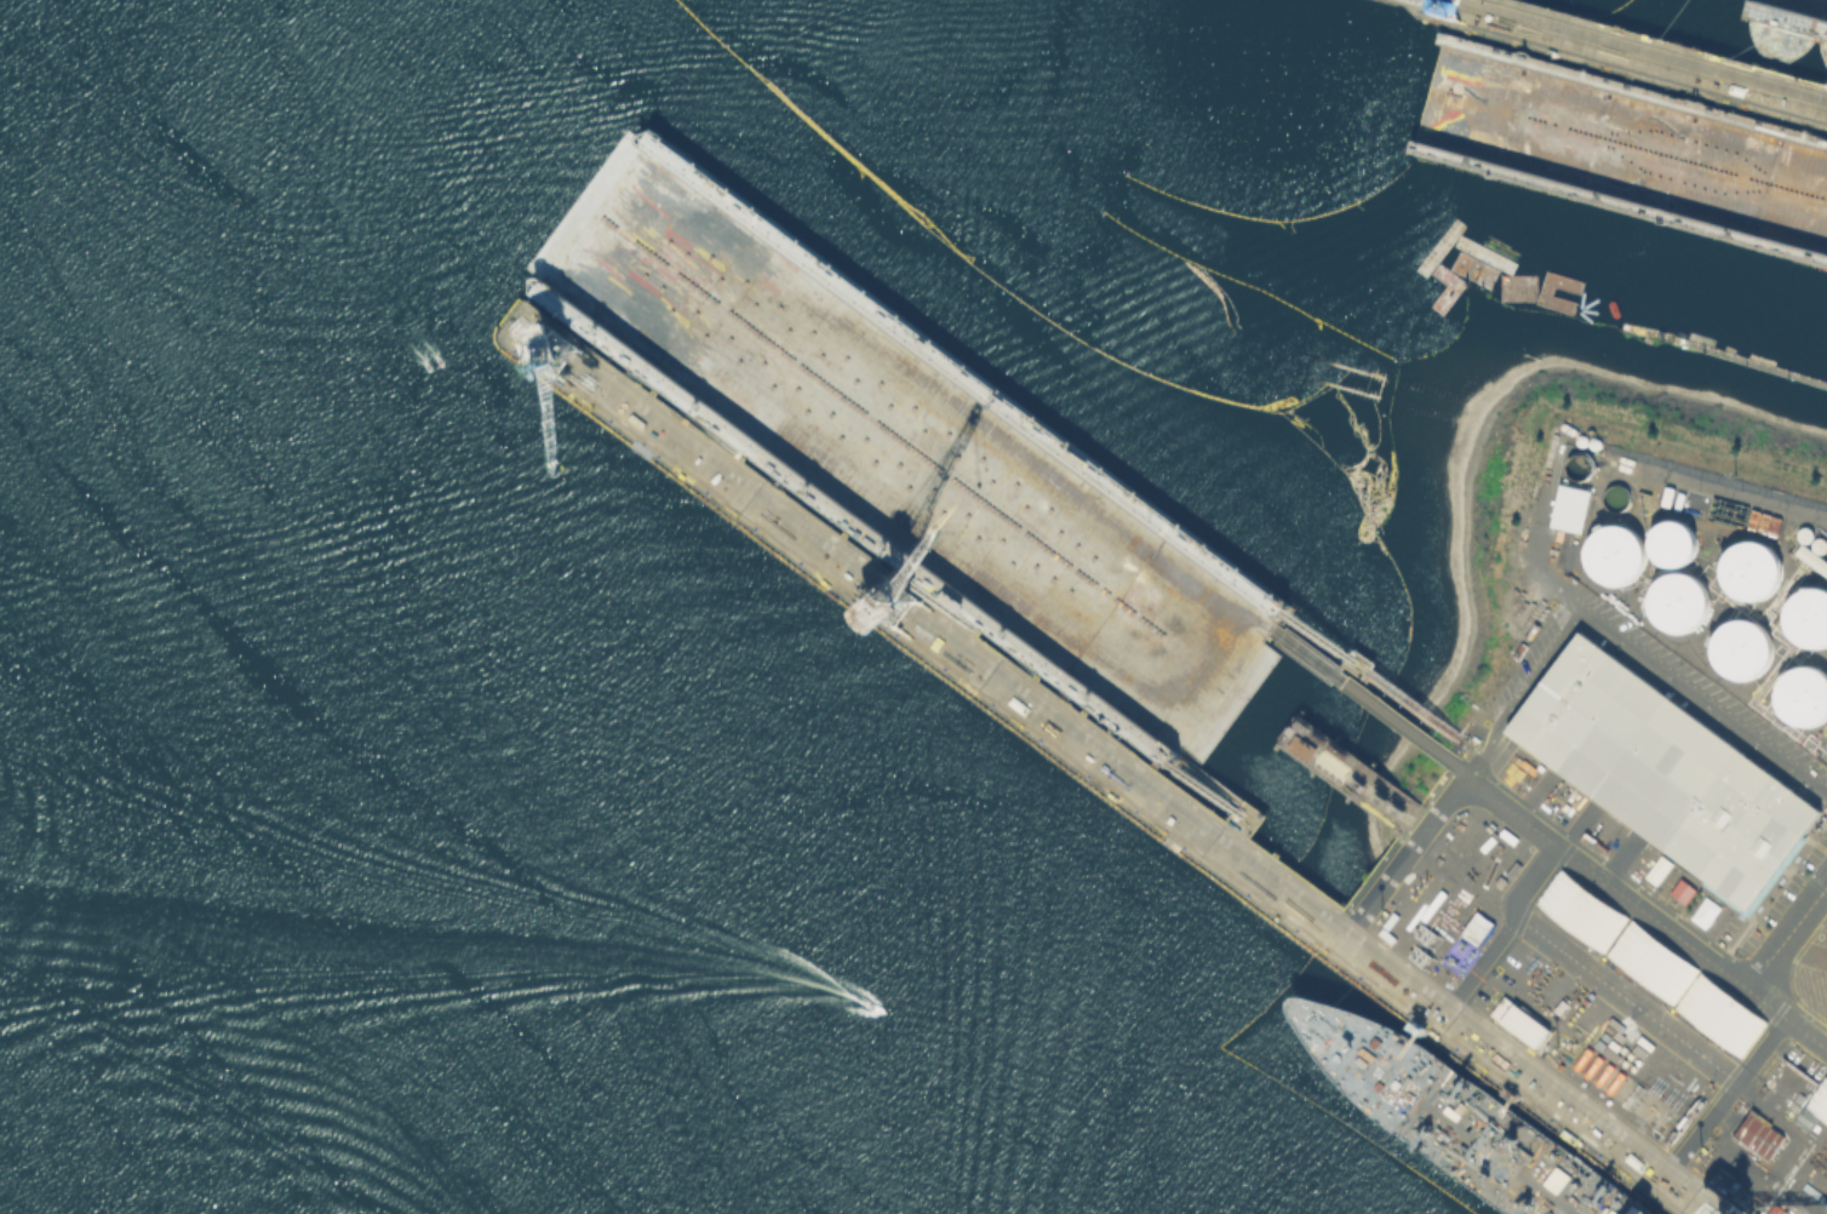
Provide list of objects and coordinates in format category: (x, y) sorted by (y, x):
railway: (1660, 47)
railway: (1637, 52)
pier: (1637, 55)
railway: (1622, 64)
railway: (1298, 362)
pier: (1762, 363)
building: (1568, 506)
building: (1671, 540)
storage tank: (1671, 540)
building: (1613, 552)
storage tank: (1613, 552)
building: (1747, 568)
storage tank: (1747, 568)
building: (1674, 599)
storage tank: (1674, 599)
building: (1156, 603)
building: (1806, 615)
storage tank: (1806, 615)
pier: (917, 622)
road: (1620, 642)
building: (1740, 646)
storage tank: (1740, 646)
pier: (1392, 686)
building: (1800, 693)
storage tank: (1800, 693)
pier: (1391, 716)
building: (911, 732)
railway: (1139, 763)
pier: (1341, 768)
building: (1661, 768)
railway: (1096, 778)
road: (1402, 865)
building: (1680, 889)
building: (1579, 909)
river: (310, 929)
road: (1785, 930)
road: (1511, 932)
building: (1649, 960)
road: (1630, 1000)
building: (1717, 1013)
building: (1518, 1020)
road: (1729, 1093)
building: (1819, 1099)
building: (1803, 1117)
building: (1756, 1132)

